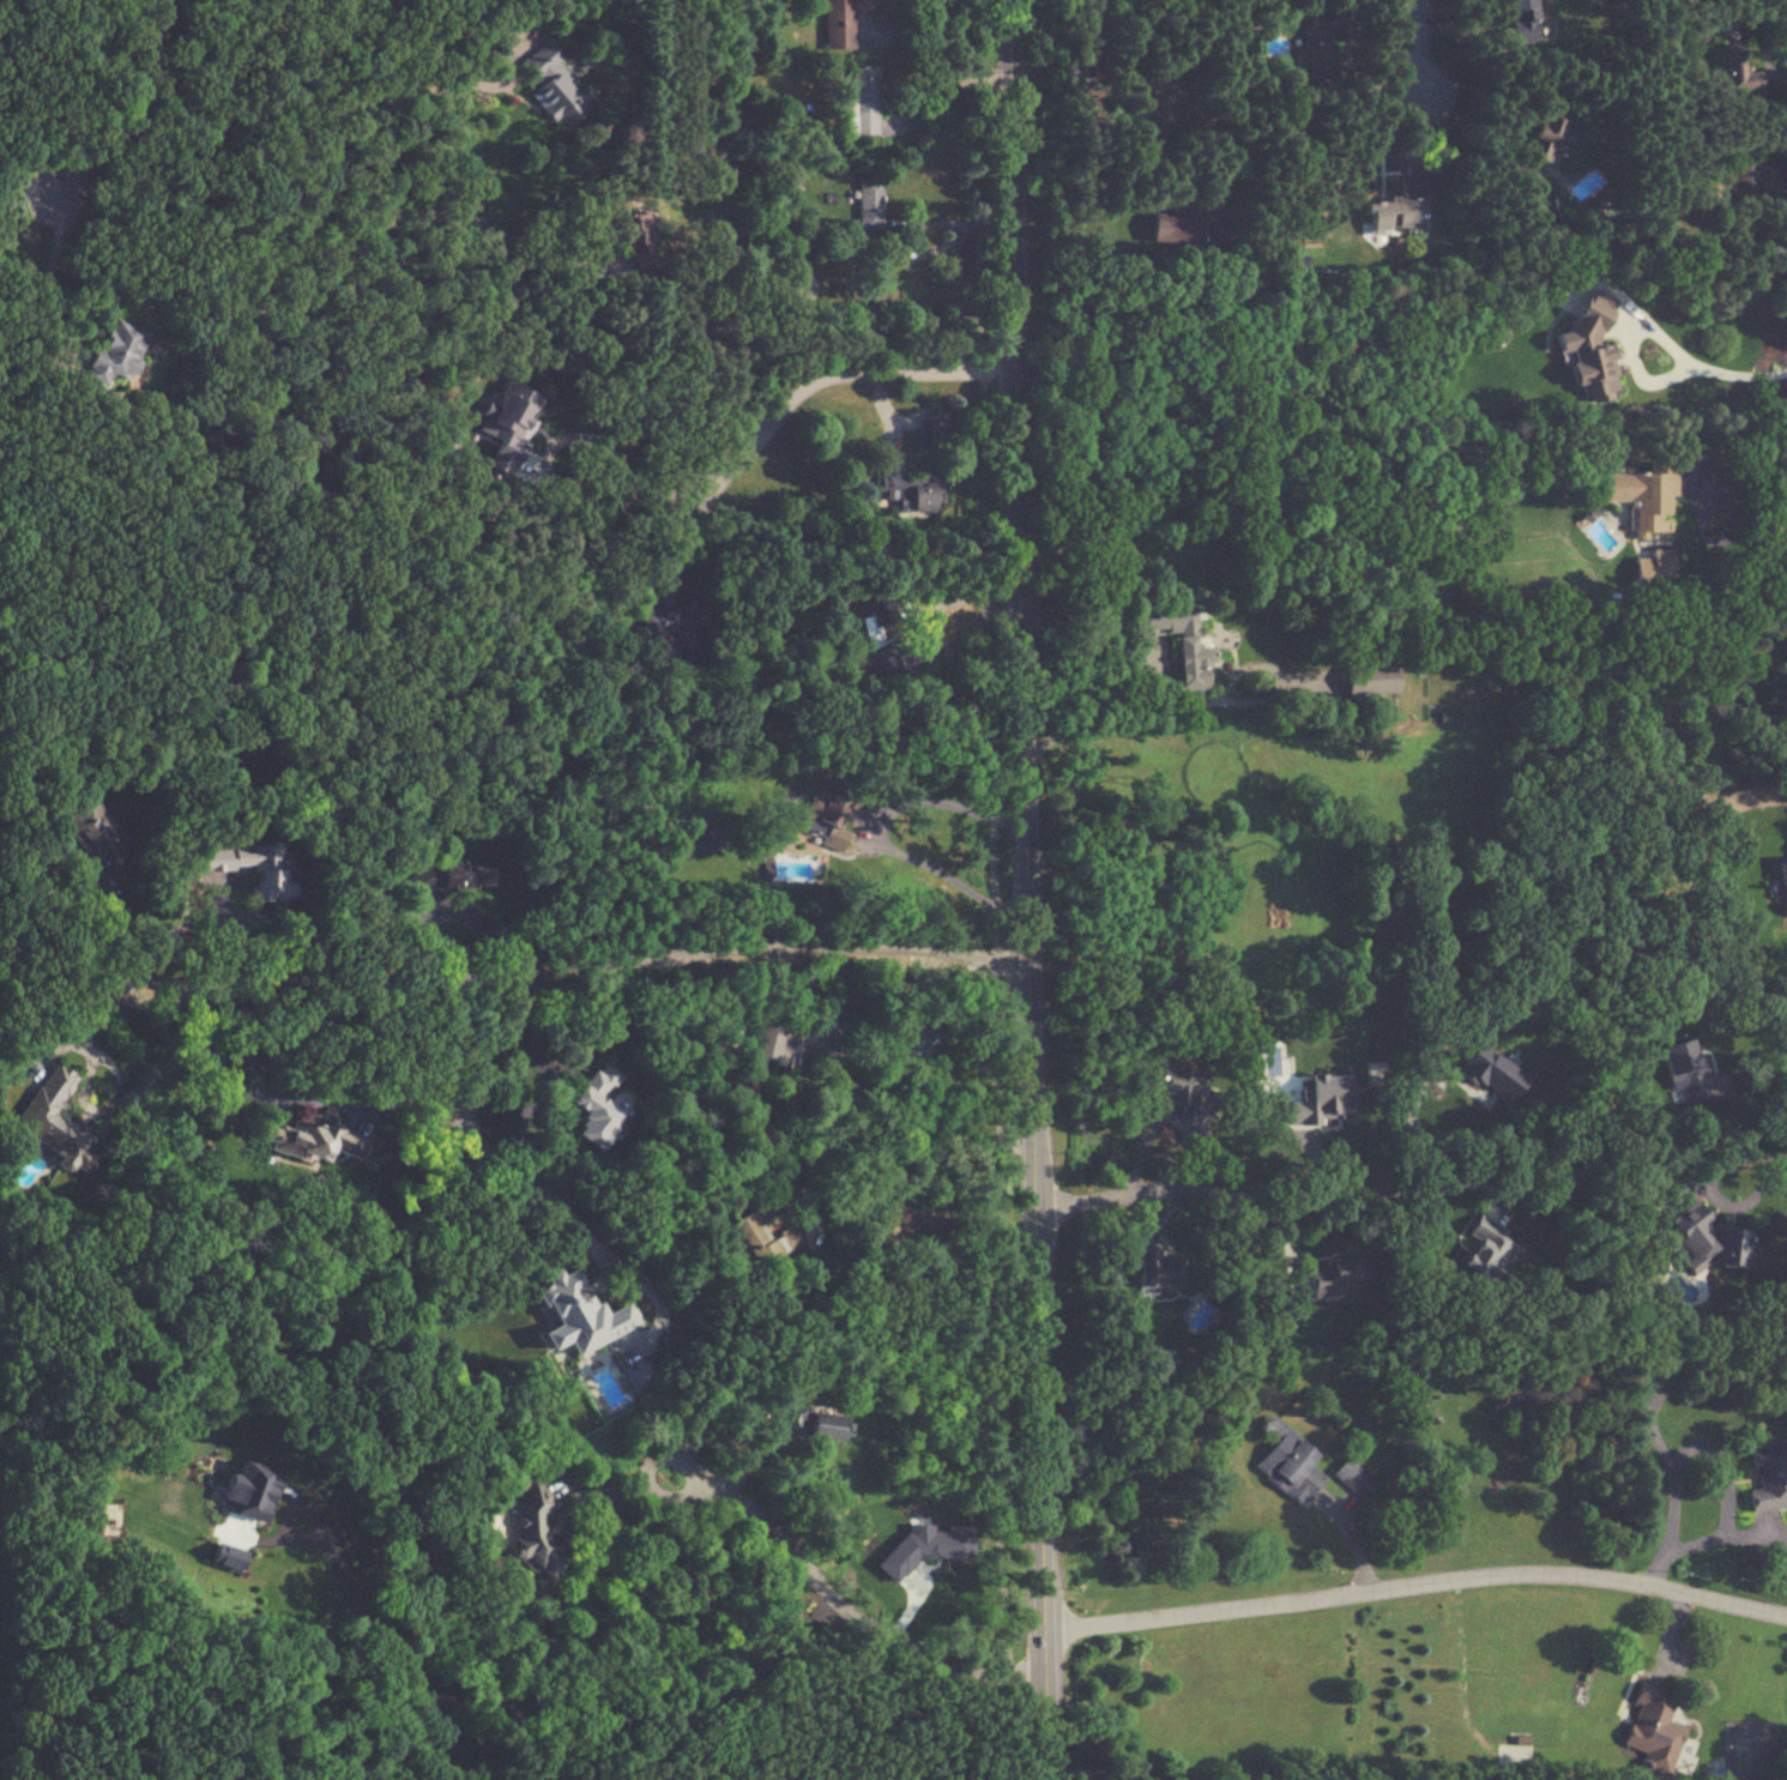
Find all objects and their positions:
building: (1520, 6)
road: (943, 13)
building: (841, 22)
building: (1697, 32)
building: (1316, 34)
road: (1420, 49)
building: (1735, 71)
road: (943, 84)
building: (550, 88)
building: (861, 101)
road: (1221, 101)
building: (1548, 131)
building: (1743, 162)
road: (84, 168)
building: (868, 203)
building: (1399, 205)
building: (1175, 224)
building: (629, 229)
road: (899, 245)
road: (615, 337)
building: (1588, 346)
building: (113, 351)
road: (1722, 372)
road: (762, 430)
building: (932, 430)
road: (624, 457)
road: (1747, 473)
building: (905, 491)
building: (1641, 493)
road: (953, 604)
building: (665, 626)
building: (1178, 642)
road: (1058, 650)
building: (1368, 680)
road: (1200, 701)
building: (822, 823)
building: (86, 832)
road: (879, 835)
building: (690, 846)
building: (265, 870)
building: (445, 879)
building: (1782, 882)
road: (991, 888)
road: (1024, 889)
road: (215, 903)
road: (563, 969)
building: (912, 1037)
building: (773, 1042)
building: (243, 1054)
building: (1487, 1073)
road: (1751, 1073)
road: (863, 1080)
building: (1178, 1088)
road: (78, 1092)
road: (543, 1094)
building: (1321, 1099)
road: (302, 1100)
building: (594, 1104)
road: (1409, 1117)
building: (52, 1118)
road: (472, 1133)
road: (843, 1133)
road: (973, 1138)
building: (309, 1140)
road: (1447, 1179)
road: (1765, 1187)
road: (1211, 1191)
building: (749, 1229)
building: (1483, 1254)
building: (1152, 1268)
building: (1330, 1275)
building: (578, 1315)
building: (814, 1420)
road: (736, 1436)
building: (1287, 1460)
road: (1723, 1468)
building: (1768, 1477)
building: (532, 1532)
road: (1417, 1585)
road: (843, 1600)
road: (499, 1706)
building: (1650, 1727)

